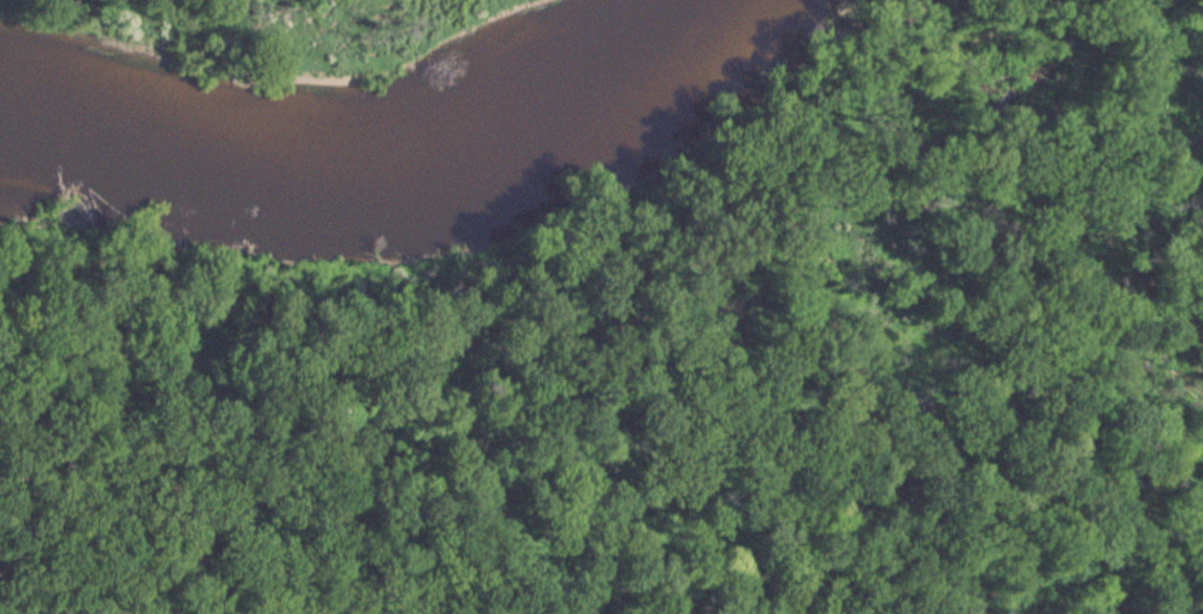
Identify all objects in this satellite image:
river: (393, 177)

